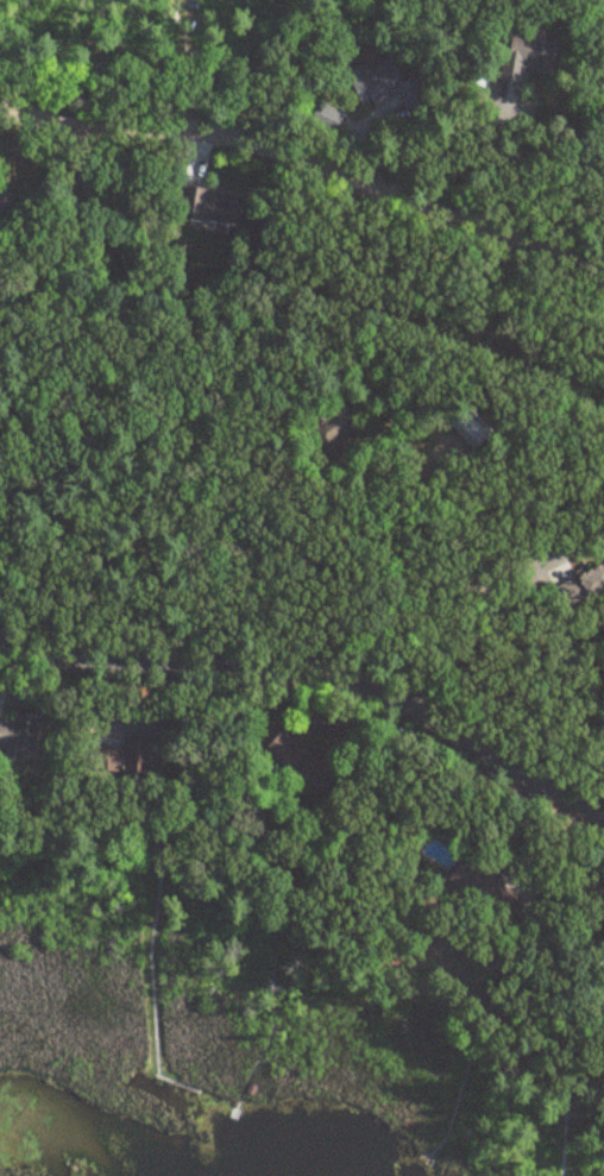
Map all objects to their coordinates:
building: (526, 57)
building: (380, 86)
building: (325, 115)
road: (310, 164)
building: (4, 200)
building: (214, 206)
road: (473, 338)
building: (332, 428)
building: (579, 585)
road: (473, 634)
road: (316, 675)
building: (18, 732)
building: (124, 757)
building: (298, 760)
building: (483, 885)
road: (596, 889)
building: (603, 995)

